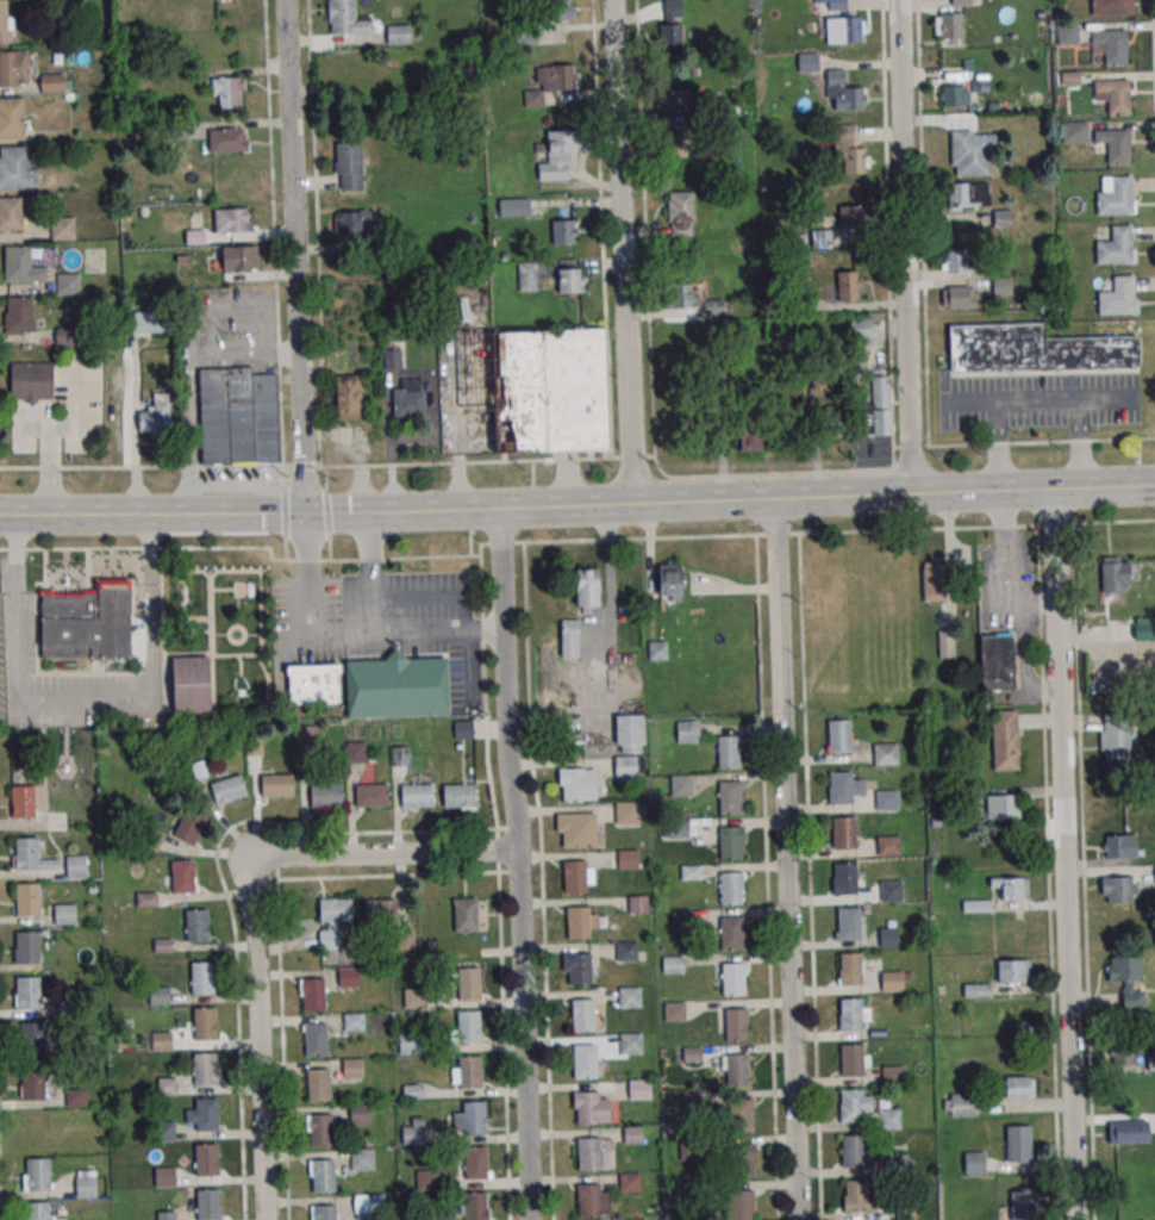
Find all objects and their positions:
building: (1111, 7)
building: (556, 10)
building: (346, 19)
building: (5, 20)
building: (673, 24)
building: (948, 26)
building: (841, 30)
road: (1154, 30)
building: (1066, 32)
building: (398, 35)
building: (1112, 45)
building: (418, 64)
building: (14, 68)
building: (550, 77)
building: (52, 82)
building: (229, 92)
building: (954, 94)
building: (1115, 95)
building: (849, 98)
building: (676, 99)
building: (11, 118)
building: (227, 139)
building: (1115, 145)
building: (849, 149)
building: (972, 152)
building: (557, 155)
building: (348, 166)
building: (15, 167)
road: (314, 179)
building: (969, 195)
building: (1116, 198)
building: (513, 207)
building: (11, 213)
building: (680, 213)
building: (853, 217)
building: (1001, 218)
building: (231, 220)
building: (352, 223)
building: (62, 228)
building: (563, 231)
building: (820, 238)
road: (905, 247)
building: (1116, 248)
road: (624, 251)
road: (295, 256)
building: (239, 257)
building: (954, 260)
building: (21, 264)
building: (527, 279)
building: (568, 280)
building: (67, 282)
building: (847, 286)
building: (682, 294)
building: (957, 295)
building: (1117, 298)
building: (716, 306)
building: (18, 315)
building: (150, 323)
building: (861, 329)
building: (1034, 348)
building: (392, 359)
building: (31, 381)
building: (549, 391)
building: (346, 397)
road: (1107, 400)
road: (1035, 402)
parking lot: (1038, 402)
building: (407, 403)
road: (970, 403)
building: (879, 407)
building: (155, 412)
building: (238, 416)
building: (830, 421)
building: (749, 435)
road: (593, 457)
road: (48, 467)
road: (1103, 486)
road: (526, 508)
traffic signals: (306, 515)
road: (955, 528)
road: (246, 548)
road: (1004, 572)
building: (1115, 573)
road: (370, 575)
building: (1084, 580)
building: (668, 581)
building: (932, 581)
building: (586, 587)
road: (15, 597)
building: (87, 622)
building: (1094, 628)
building: (569, 637)
road: (344, 639)
building: (945, 643)
building: (656, 651)
building: (995, 662)
road: (1022, 662)
road: (152, 677)
building: (191, 683)
building: (311, 683)
building: (394, 685)
building: (463, 729)
building: (688, 733)
building: (629, 734)
building: (839, 737)
road: (761, 739)
building: (1116, 740)
building: (1005, 741)
building: (357, 752)
building: (729, 754)
building: (400, 755)
building: (885, 755)
building: (625, 768)
building: (577, 785)
building: (681, 786)
building: (276, 788)
building: (229, 790)
building: (841, 790)
building: (326, 797)
building: (372, 797)
building: (417, 797)
building: (458, 797)
building: (730, 798)
building: (21, 803)
building: (887, 803)
building: (1003, 807)
building: (628, 815)
building: (56, 821)
building: (191, 829)
building: (678, 829)
building: (576, 830)
building: (844, 834)
building: (731, 844)
building: (888, 847)
building: (1120, 848)
road: (1062, 853)
building: (27, 854)
road: (787, 859)
building: (628, 860)
road: (520, 863)
building: (75, 866)
building: (691, 873)
road: (810, 877)
building: (182, 878)
building: (575, 878)
road: (542, 880)
building: (845, 880)
road: (498, 882)
road: (223, 886)
building: (1011, 888)
building: (731, 890)
building: (1117, 890)
building: (892, 892)
building: (29, 901)
road: (255, 904)
building: (638, 905)
building: (336, 911)
building: (380, 913)
building: (64, 914)
building: (466, 916)
building: (682, 921)
building: (577, 925)
building: (849, 926)
building: (198, 927)
building: (732, 934)
building: (888, 939)
road: (279, 940)
building: (26, 948)
building: (628, 952)
building: (673, 965)
building: (577, 970)
building: (851, 971)
building: (1012, 971)
building: (348, 978)
building: (202, 979)
building: (1126, 979)
building: (733, 981)
building: (892, 983)
building: (469, 986)
building: (976, 990)
building: (27, 995)
building: (313, 995)
building: (158, 997)
building: (629, 998)
building: (416, 1000)
building: (674, 1012)
building: (850, 1016)
building: (582, 1017)
building: (354, 1023)
building: (204, 1025)
building: (736, 1026)
building: (468, 1028)
building: (32, 1039)
building: (316, 1041)
building: (162, 1042)
building: (408, 1042)
building: (631, 1045)
building: (1124, 1052)
building: (692, 1056)
building: (583, 1062)
building: (853, 1062)
building: (352, 1069)
building: (205, 1070)
building: (737, 1071)
building: (470, 1075)
building: (893, 1076)
building: (33, 1085)
building: (319, 1087)
building: (1017, 1087)
building: (167, 1088)
building: (641, 1090)
building: (75, 1098)
building: (693, 1101)
building: (963, 1106)
building: (851, 1107)
building: (592, 1110)
building: (360, 1114)
building: (206, 1115)
building: (739, 1118)
building: (474, 1119)
building: (889, 1120)
building: (36, 1128)
building: (164, 1132)
building: (1128, 1132)
building: (320, 1133)
building: (412, 1135)
building: (632, 1137)
building: (90, 1140)
building: (1018, 1143)
building: (692, 1150)
building: (856, 1153)
building: (589, 1156)
building: (362, 1159)
building: (206, 1162)
building: (742, 1163)
building: (974, 1164)
building: (476, 1165)
building: (899, 1166)
building: (38, 1176)
building: (164, 1177)
building: (323, 1177)
building: (427, 1181)
building: (629, 1183)
building: (86, 1187)
building: (693, 1193)
building: (859, 1199)
road: (0, 1200)
building: (592, 1202)
building: (1022, 1203)
building: (208, 1206)
building: (369, 1206)
building: (743, 1206)
building: (474, 1207)
building: (906, 1209)
building: (37, 1212)
building: (324, 1213)
building: (167, 1215)
building: (433, 1219)
building: (635, 1219)

